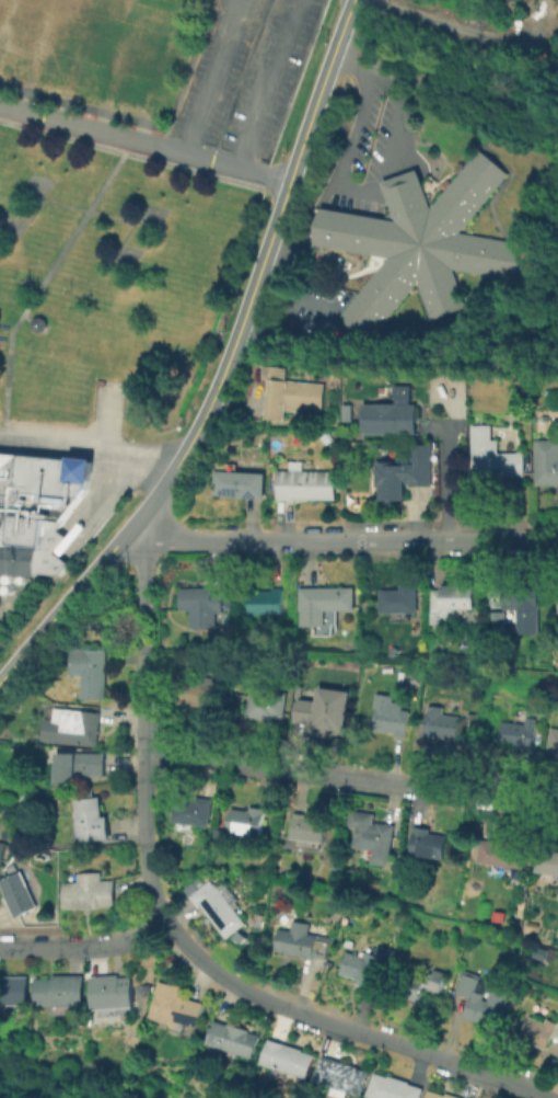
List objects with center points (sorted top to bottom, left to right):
road: (464, 28)
road: (550, 65)
parking lot: (244, 76)
road: (213, 77)
road: (268, 84)
road: (142, 142)
road: (140, 155)
road: (379, 178)
road: (84, 208)
building: (425, 245)
road: (37, 285)
road: (24, 316)
building: (36, 323)
road: (36, 324)
road: (223, 364)
building: (98, 381)
building: (294, 399)
road: (107, 416)
building: (391, 418)
road: (0, 427)
road: (86, 446)
road: (43, 454)
building: (495, 461)
building: (546, 470)
building: (405, 471)
road: (442, 479)
building: (305, 482)
building: (240, 483)
building: (39, 502)
road: (96, 503)
road: (74, 518)
road: (81, 536)
road: (344, 541)
street lamp: (84, 557)
building: (19, 559)
building: (398, 598)
building: (521, 599)
building: (265, 601)
building: (556, 601)
building: (323, 602)
building: (451, 602)
building: (201, 605)
building: (497, 619)
building: (89, 670)
building: (411, 672)
building: (200, 690)
building: (267, 704)
building: (325, 710)
building: (390, 714)
road: (142, 717)
building: (440, 722)
building: (474, 724)
building: (72, 725)
building: (518, 733)
building: (554, 741)
building: (79, 765)
road: (350, 777)
building: (193, 810)
building: (90, 817)
building: (246, 820)
building: (310, 827)
building: (374, 836)
building: (429, 843)
building: (2, 851)
building: (503, 853)
building: (547, 859)
building: (89, 890)
building: (19, 893)
building: (219, 907)
building: (243, 936)
building: (299, 942)
road: (84, 943)
building: (555, 958)
building: (367, 965)
building: (419, 983)
building: (14, 990)
building: (61, 991)
building: (112, 991)
building: (484, 998)
building: (177, 1008)
road: (338, 1026)
building: (539, 1031)
building: (233, 1038)
building: (288, 1057)
building: (340, 1076)
building: (392, 1087)
building: (438, 1095)

